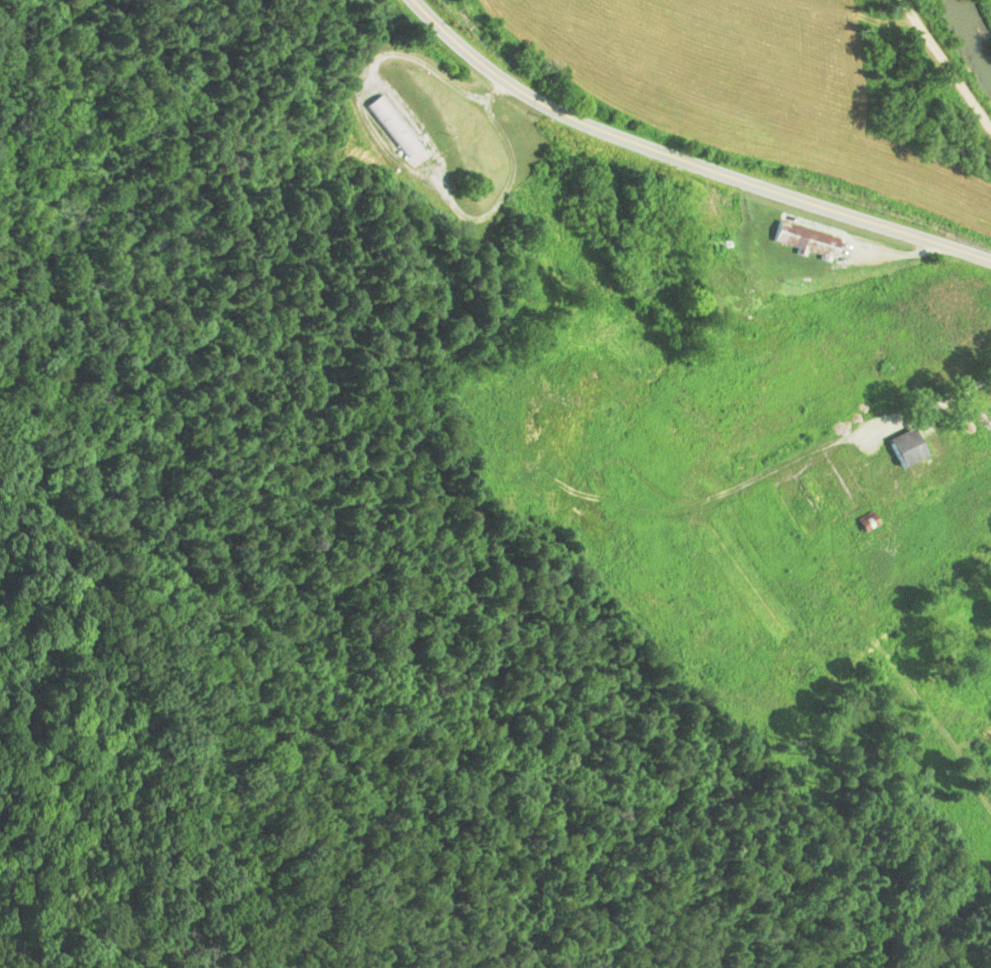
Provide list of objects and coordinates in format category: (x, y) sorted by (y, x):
river: (973, 24)
road: (940, 71)
building: (393, 125)
road: (689, 159)
building: (804, 240)
building: (908, 446)

